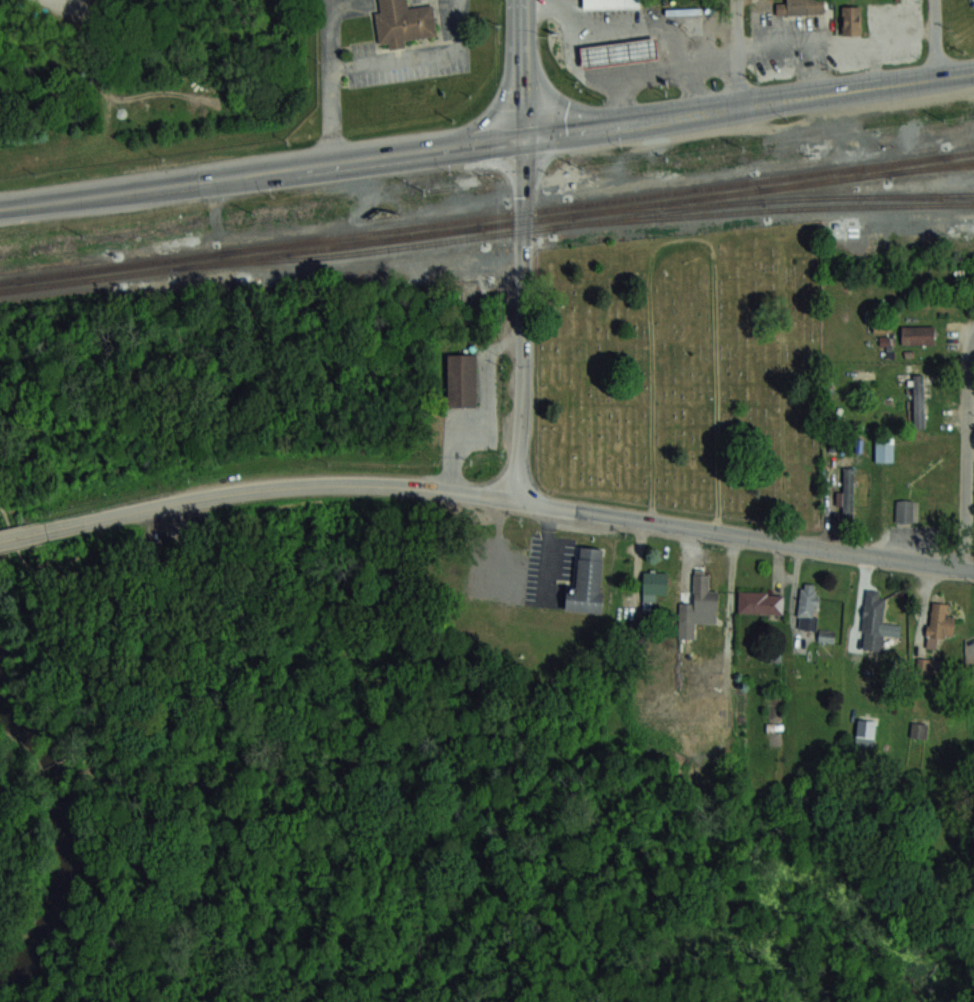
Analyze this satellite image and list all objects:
building: (607, 4)
building: (796, 7)
building: (402, 21)
road: (606, 28)
road: (331, 30)
road: (931, 38)
road: (734, 53)
road: (419, 54)
building: (615, 54)
gas station: (615, 54)
road: (712, 65)
road: (521, 69)
road: (578, 70)
road: (631, 76)
road: (854, 88)
road: (693, 90)
road: (716, 109)
road: (331, 116)
road: (608, 124)
traffic signals: (522, 138)
railway: (960, 154)
railway: (931, 168)
road: (261, 173)
railway: (853, 173)
railway: (866, 174)
railway: (917, 197)
railway: (772, 199)
railway: (584, 205)
railway: (620, 208)
railway: (658, 213)
railway: (575, 224)
railway: (351, 240)
railway: (240, 258)
railway: (110, 267)
road: (522, 320)
building: (882, 322)
building: (918, 333)
park: (686, 375)
building: (461, 380)
building: (839, 443)
building: (884, 449)
road: (968, 451)
road: (296, 486)
building: (847, 493)
building: (904, 510)
road: (41, 532)
road: (743, 536)
road: (496, 546)
park: (229, 551)
road: (542, 553)
building: (584, 579)
building: (652, 589)
building: (760, 601)
building: (698, 602)
building: (808, 606)
building: (873, 619)
building: (939, 623)
building: (918, 729)
river: (66, 825)

